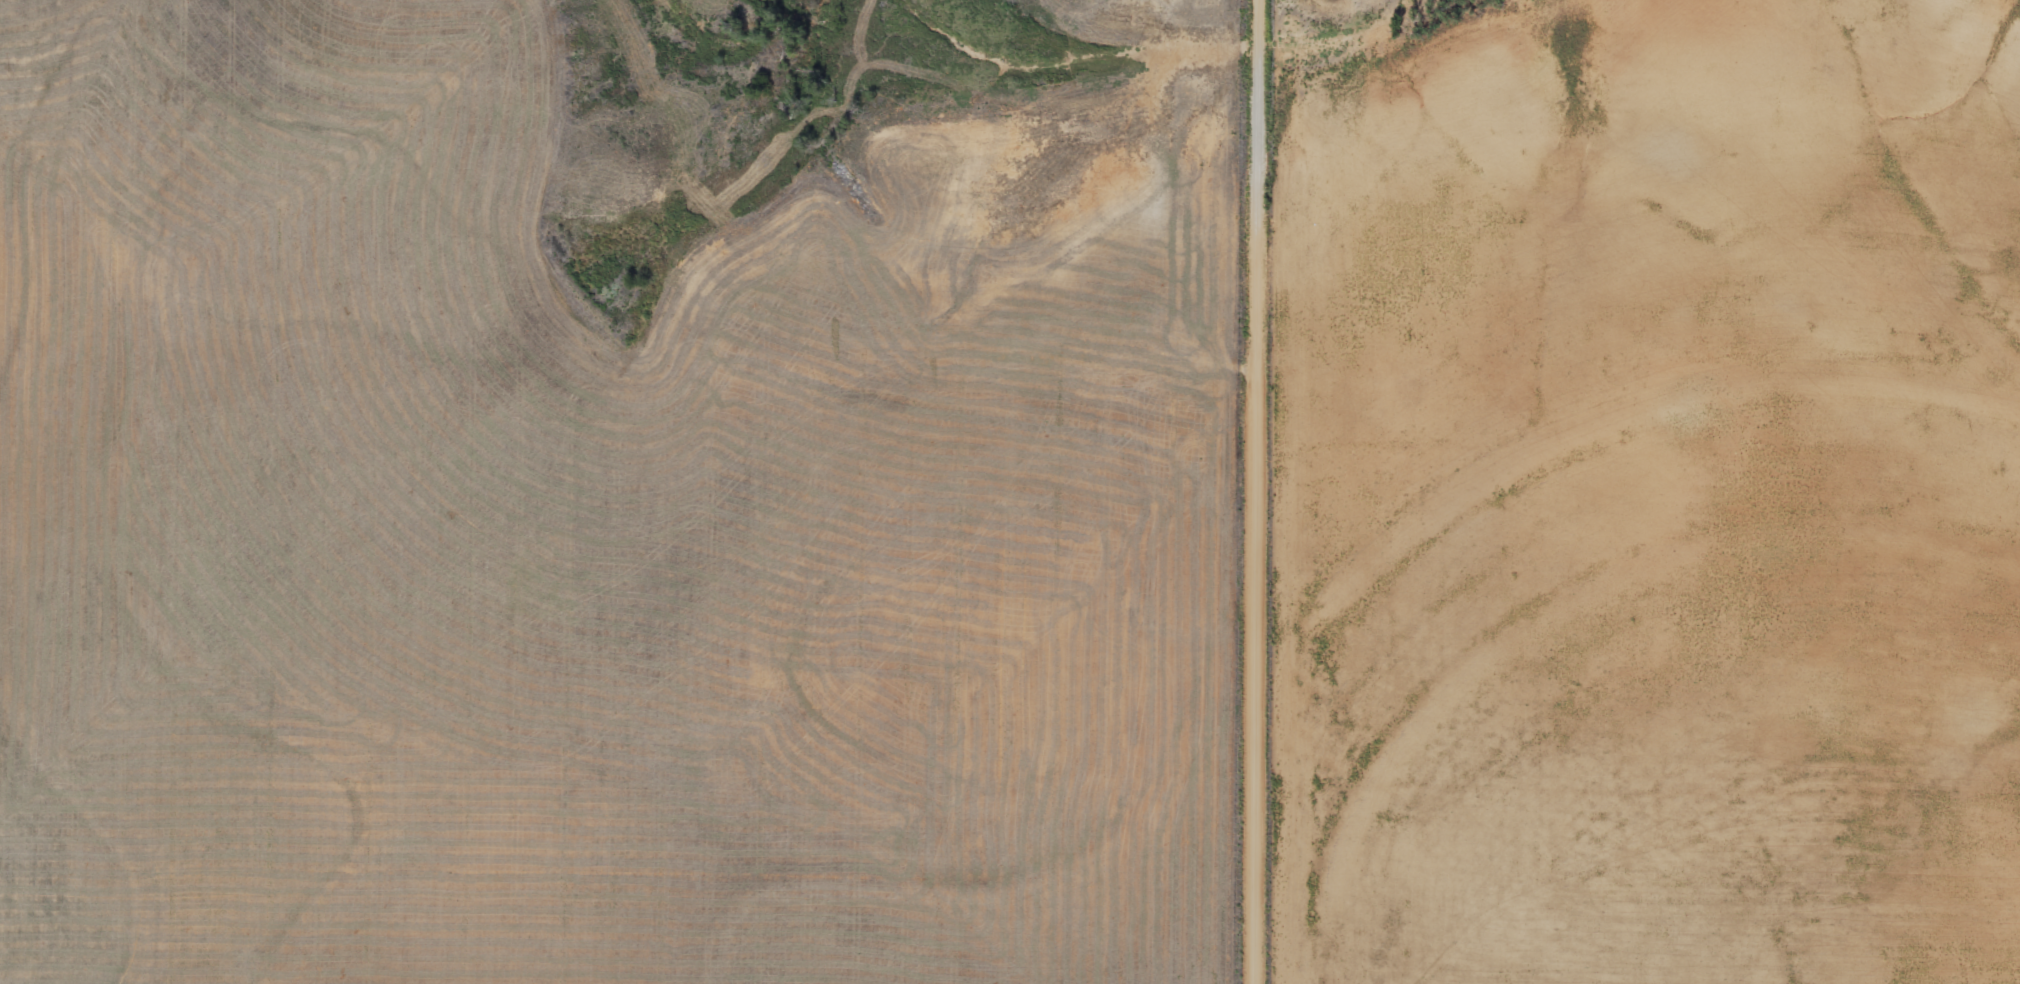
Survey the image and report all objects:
road: (1262, 491)

